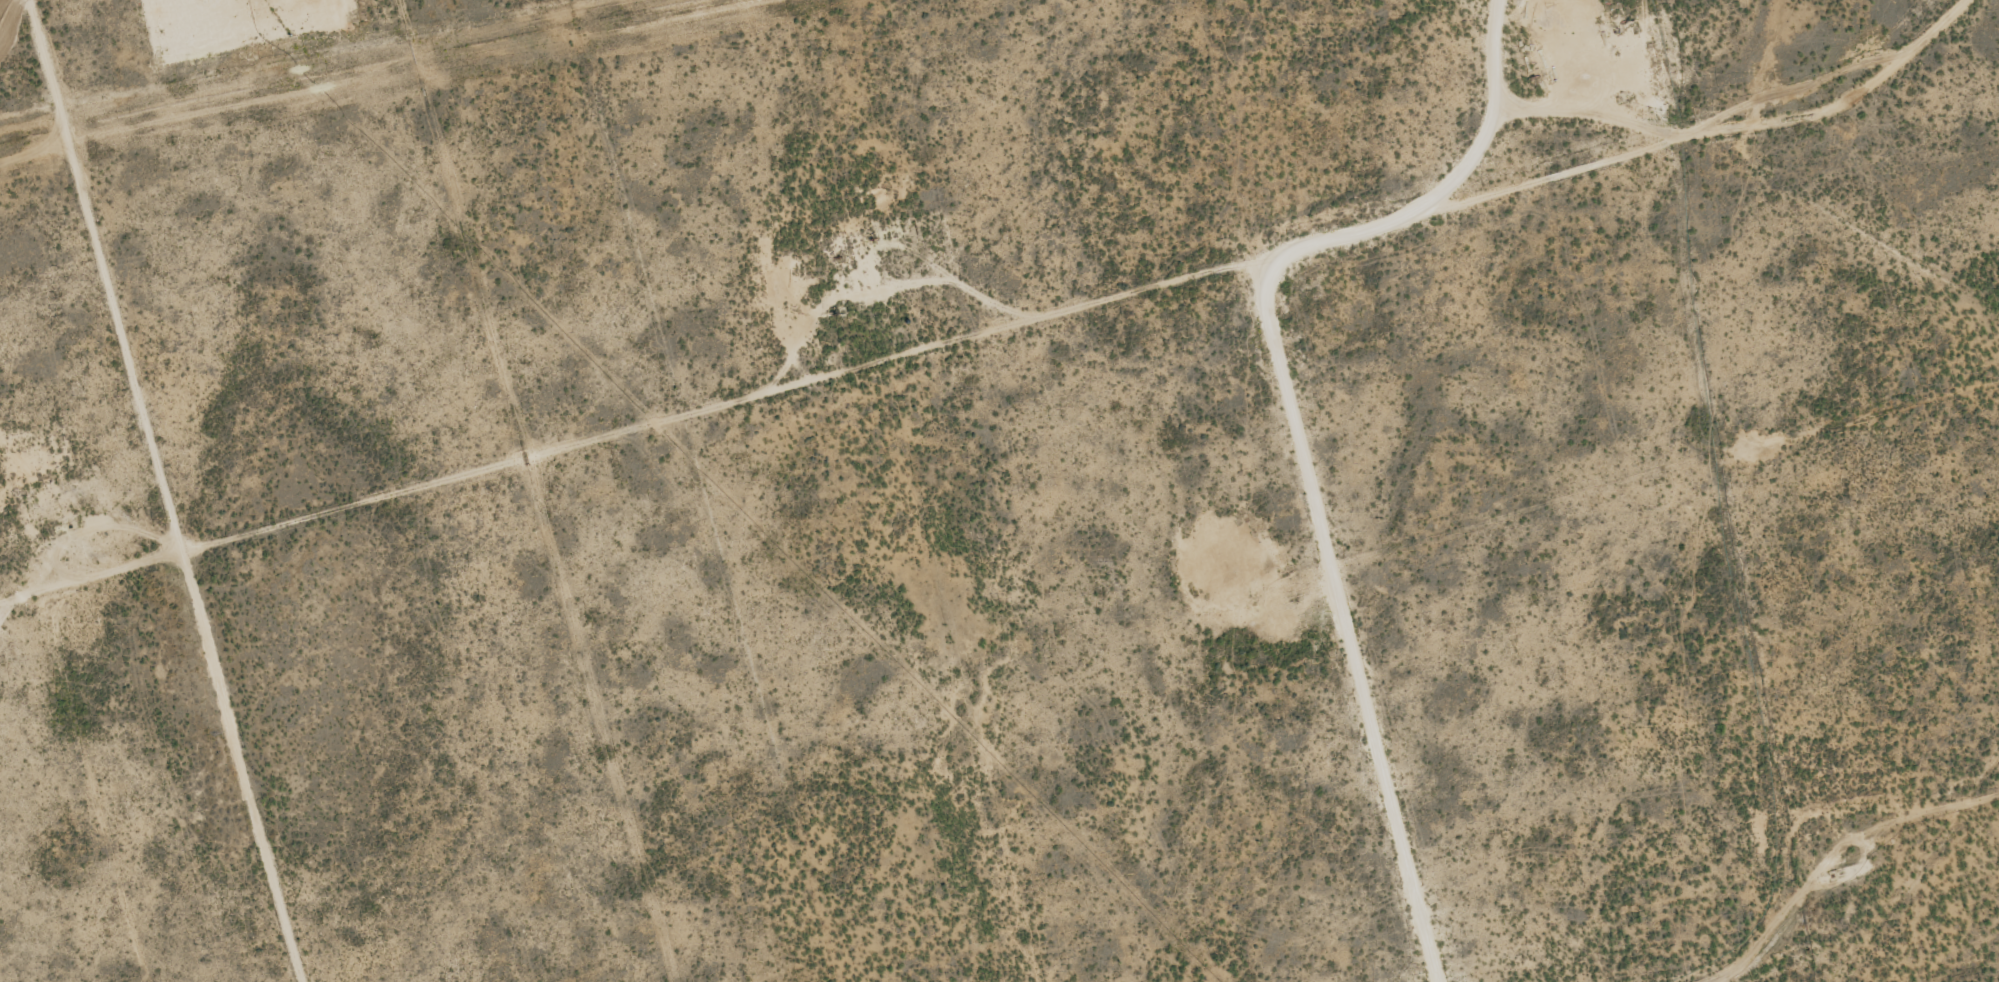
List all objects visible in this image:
road: (1000, 375)
road: (212, 487)
road: (1379, 636)

